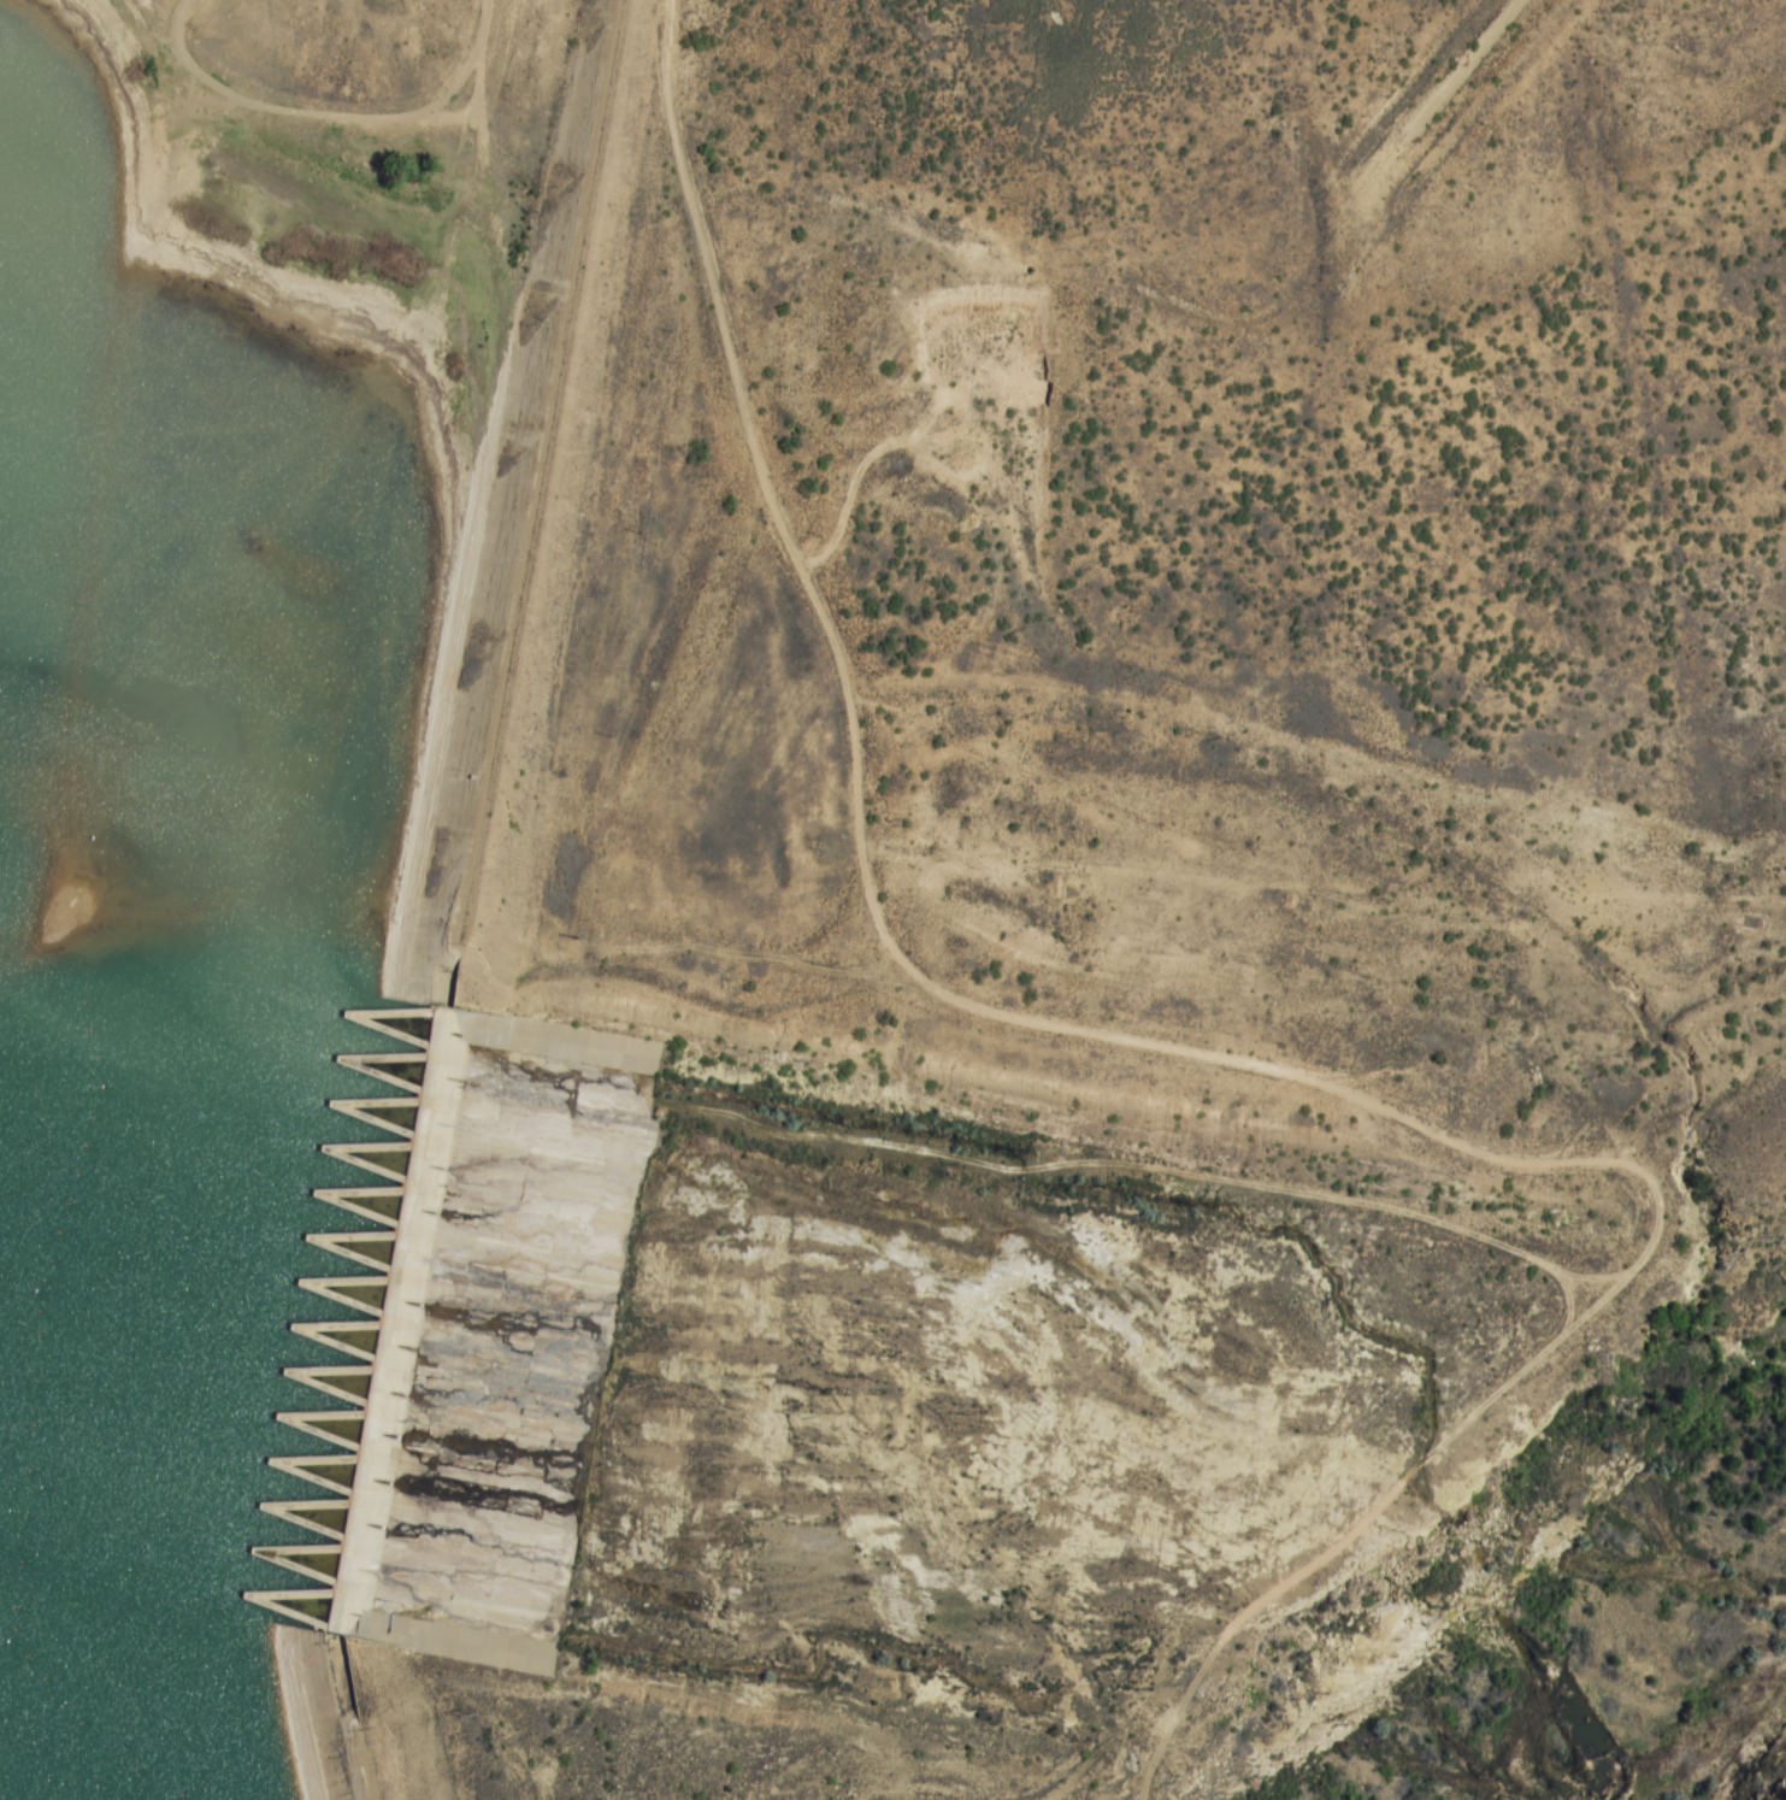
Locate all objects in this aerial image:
airport runway: (1467, 95)
road: (330, 118)
dam: (535, 505)
dam: (350, 1718)
river: (1727, 1739)

